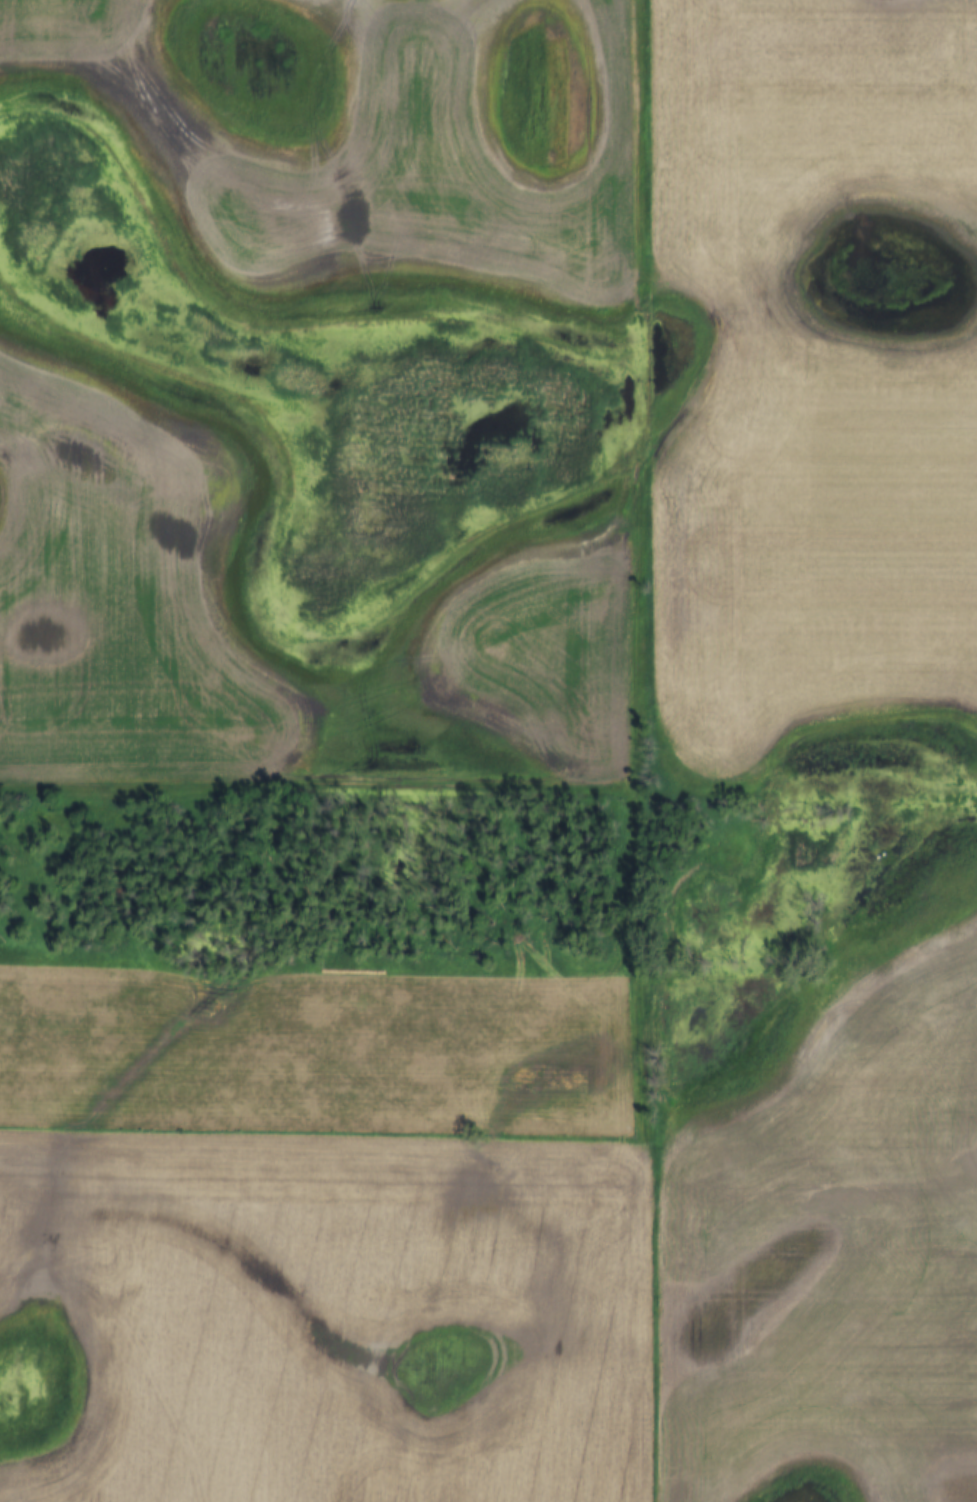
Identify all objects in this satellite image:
road: (644, 398)
road: (488, 795)

